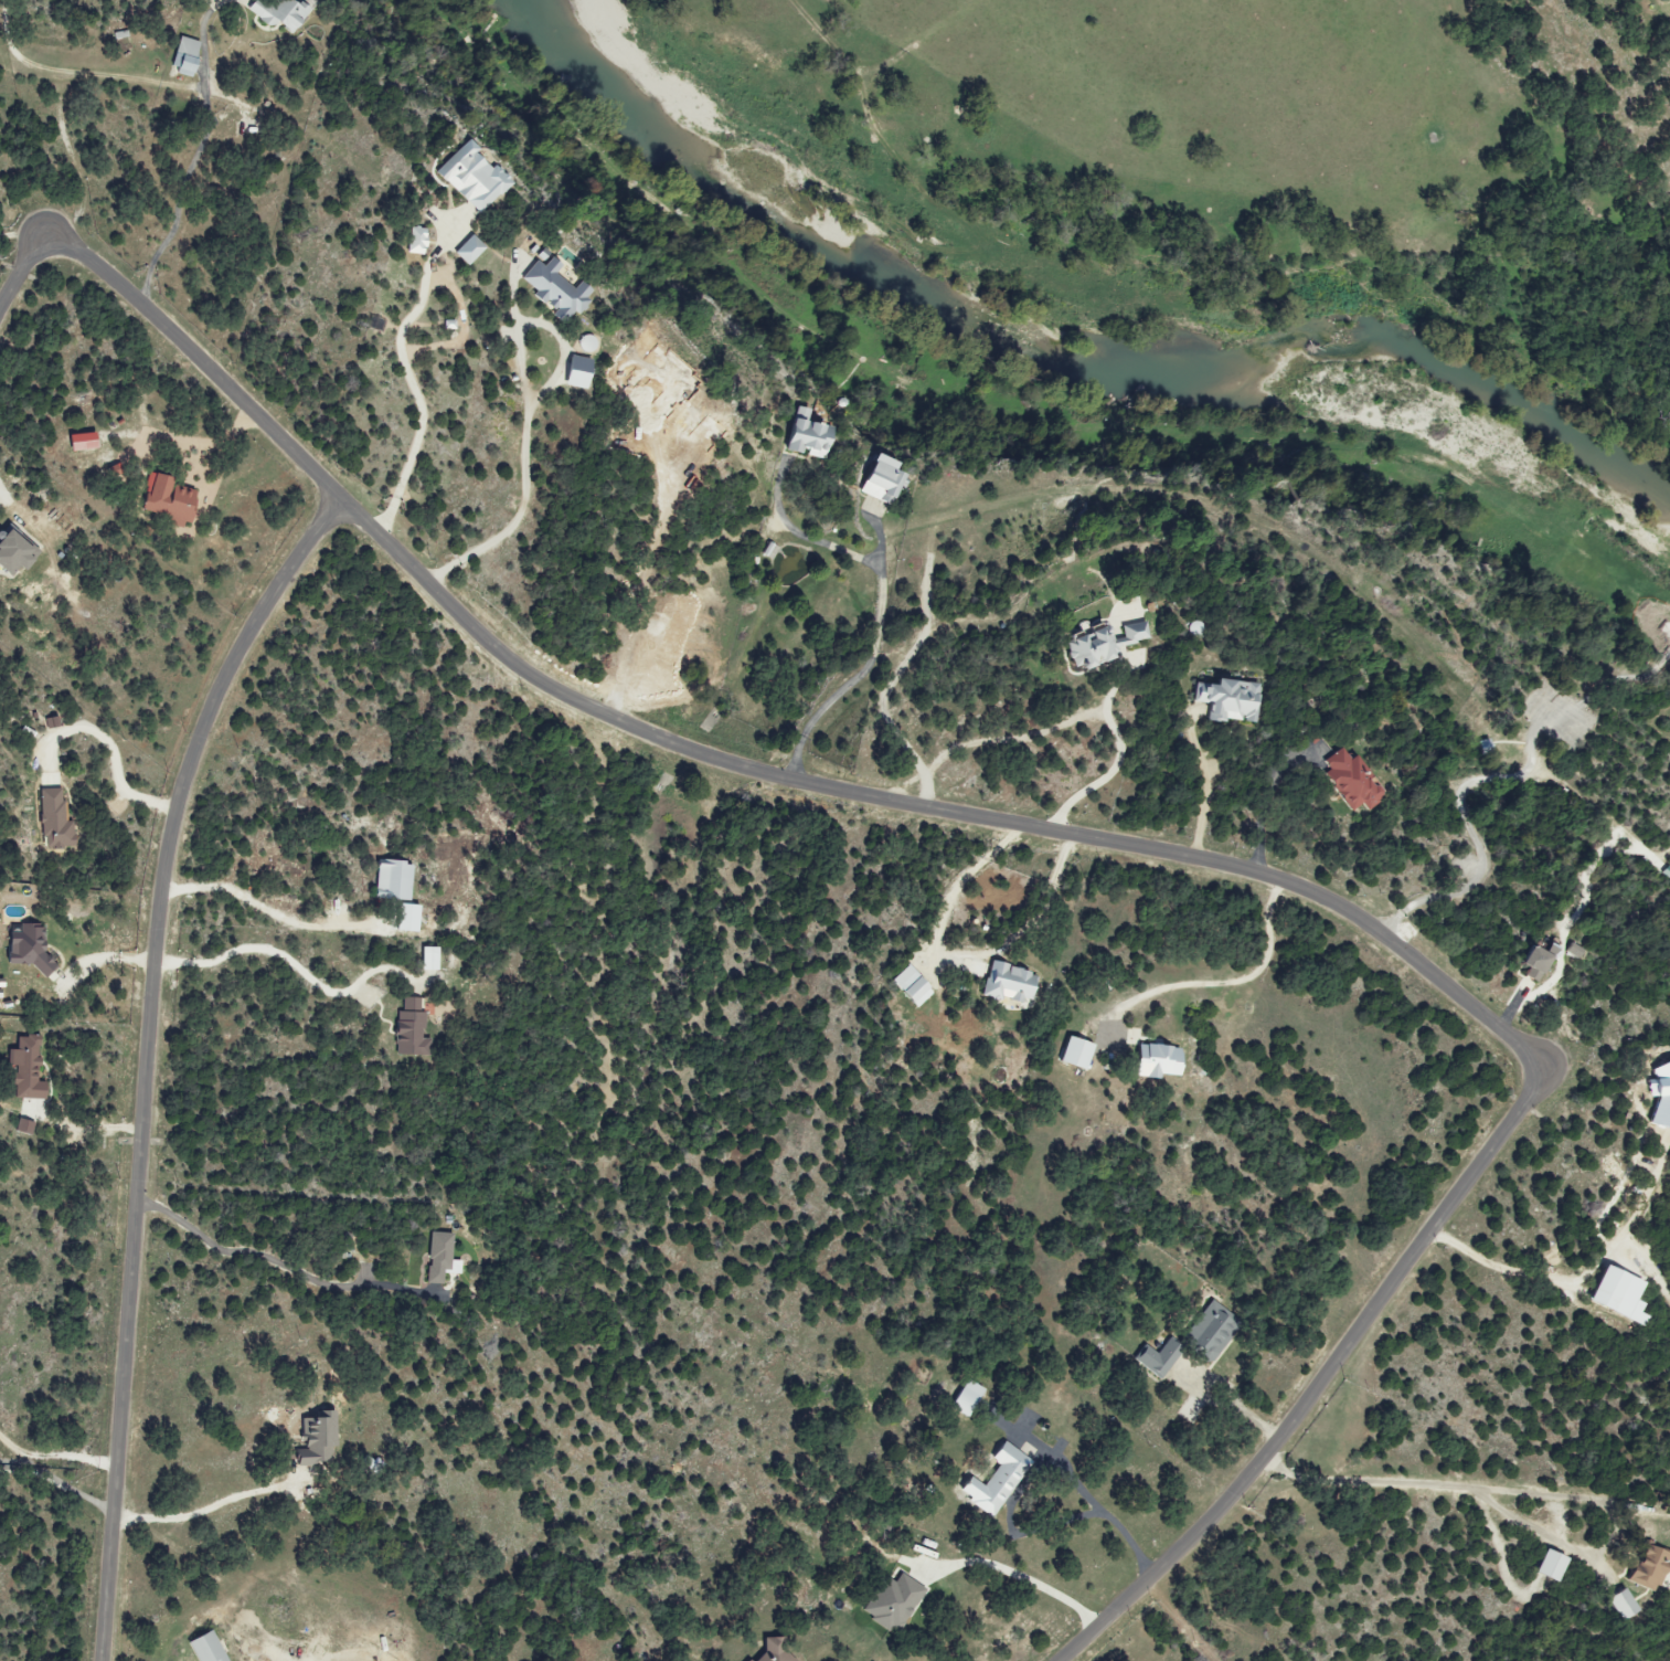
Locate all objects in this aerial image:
building: (277, 12)
building: (182, 56)
building: (468, 178)
road: (181, 193)
building: (414, 240)
building: (466, 250)
building: (553, 290)
river: (1064, 357)
building: (575, 371)
road: (414, 378)
road: (529, 408)
building: (804, 435)
building: (77, 442)
building: (876, 479)
building: (163, 500)
building: (11, 551)
building: (1102, 642)
road: (870, 662)
road: (1108, 697)
building: (1227, 700)
road: (1060, 727)
road: (110, 747)
building: (1349, 780)
road: (1206, 793)
road: (1265, 803)
building: (53, 821)
road: (1065, 835)
building: (390, 880)
road: (274, 909)
building: (24, 949)
road: (102, 954)
road: (292, 956)
building: (427, 959)
building: (1533, 962)
road: (1225, 978)
building: (1006, 984)
building: (908, 986)
building: (0, 987)
building: (409, 1029)
building: (1072, 1054)
road: (147, 1056)
building: (1152, 1061)
building: (23, 1070)
building: (1660, 1094)
building: (22, 1128)
road: (1630, 1228)
road: (249, 1250)
building: (439, 1258)
road: (1500, 1259)
building: (1615, 1295)
building: (1206, 1332)
building: (1156, 1357)
building: (964, 1397)
road: (1238, 1401)
building: (313, 1440)
road: (14, 1462)
building: (993, 1480)
road: (54, 1481)
road: (1450, 1482)
road: (205, 1509)
road: (1114, 1514)
building: (1545, 1565)
building: (1646, 1567)
road: (1020, 1570)
building: (890, 1601)
building: (1620, 1604)
building: (203, 1648)
building: (772, 1651)
building: (746, 1660)

